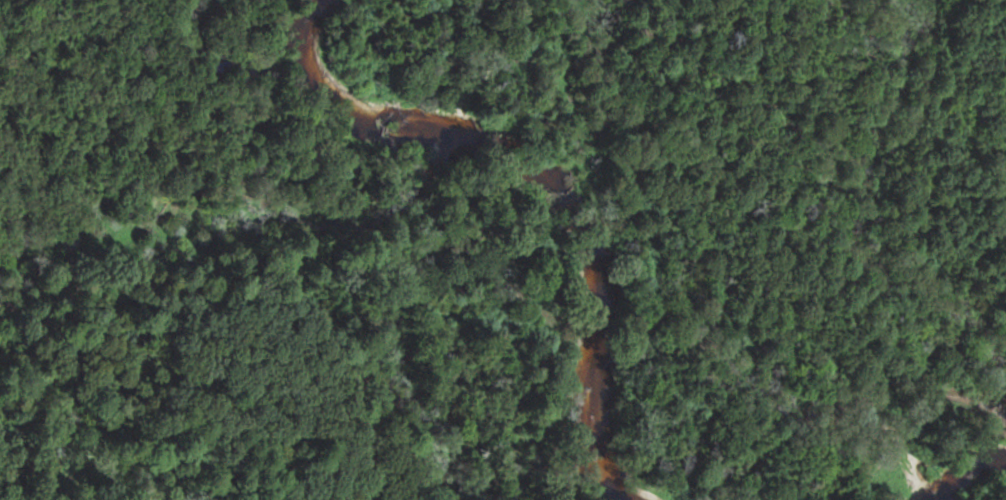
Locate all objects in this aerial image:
river: (588, 182)
river: (939, 457)

